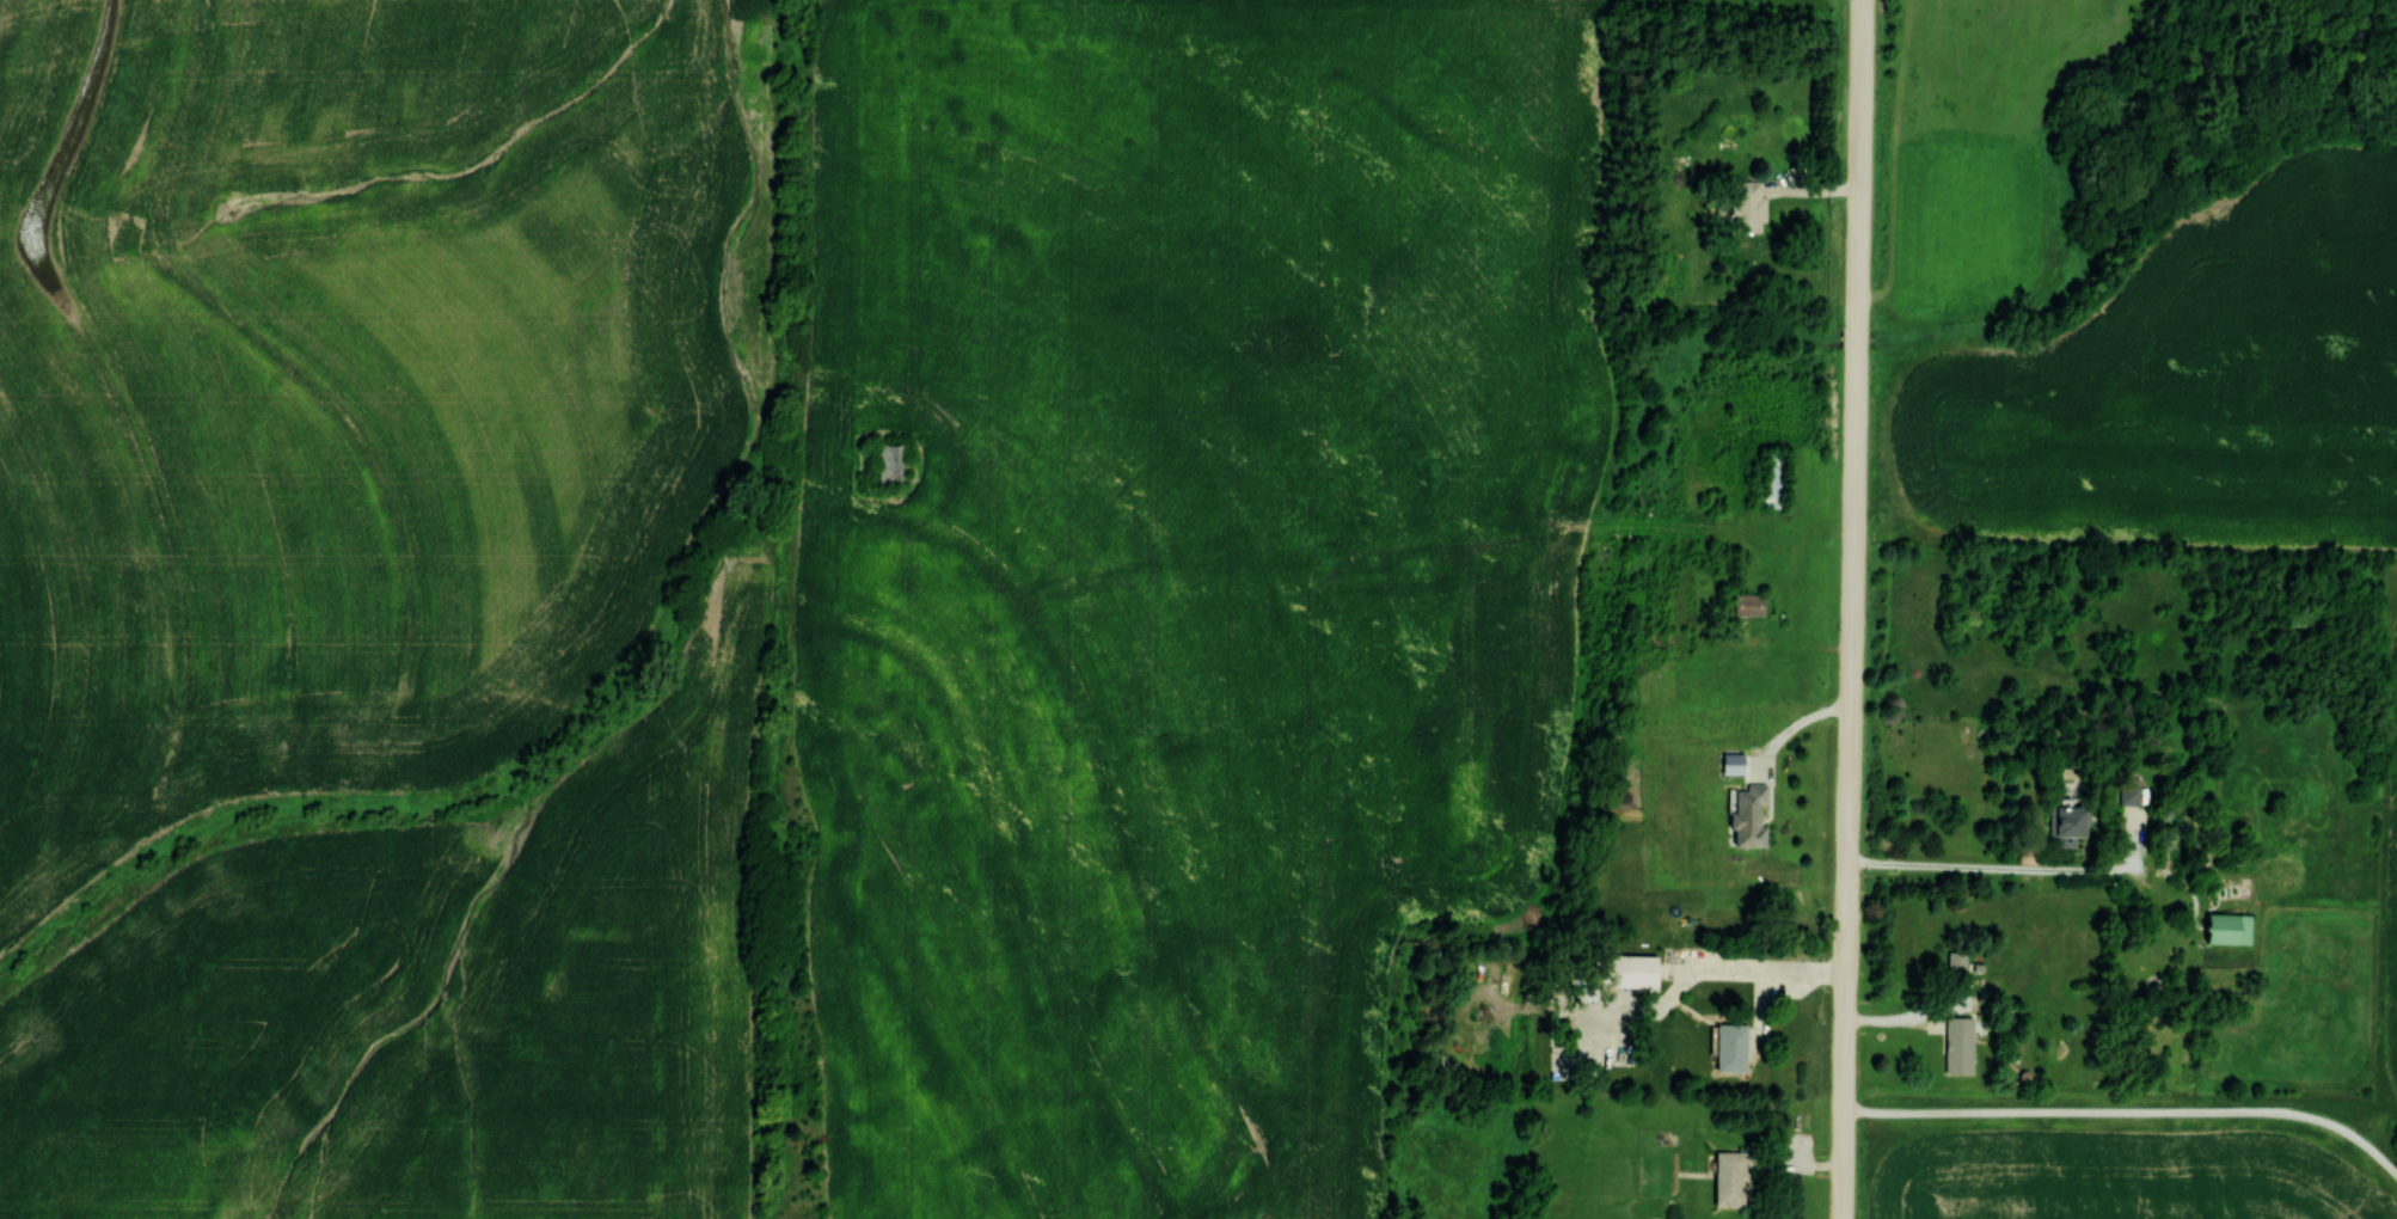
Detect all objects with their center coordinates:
building: (888, 463)
road: (1853, 608)
building: (2066, 820)
building: (2226, 927)
building: (1956, 962)
building: (1627, 970)
building: (1957, 1046)
road: (2129, 1109)

